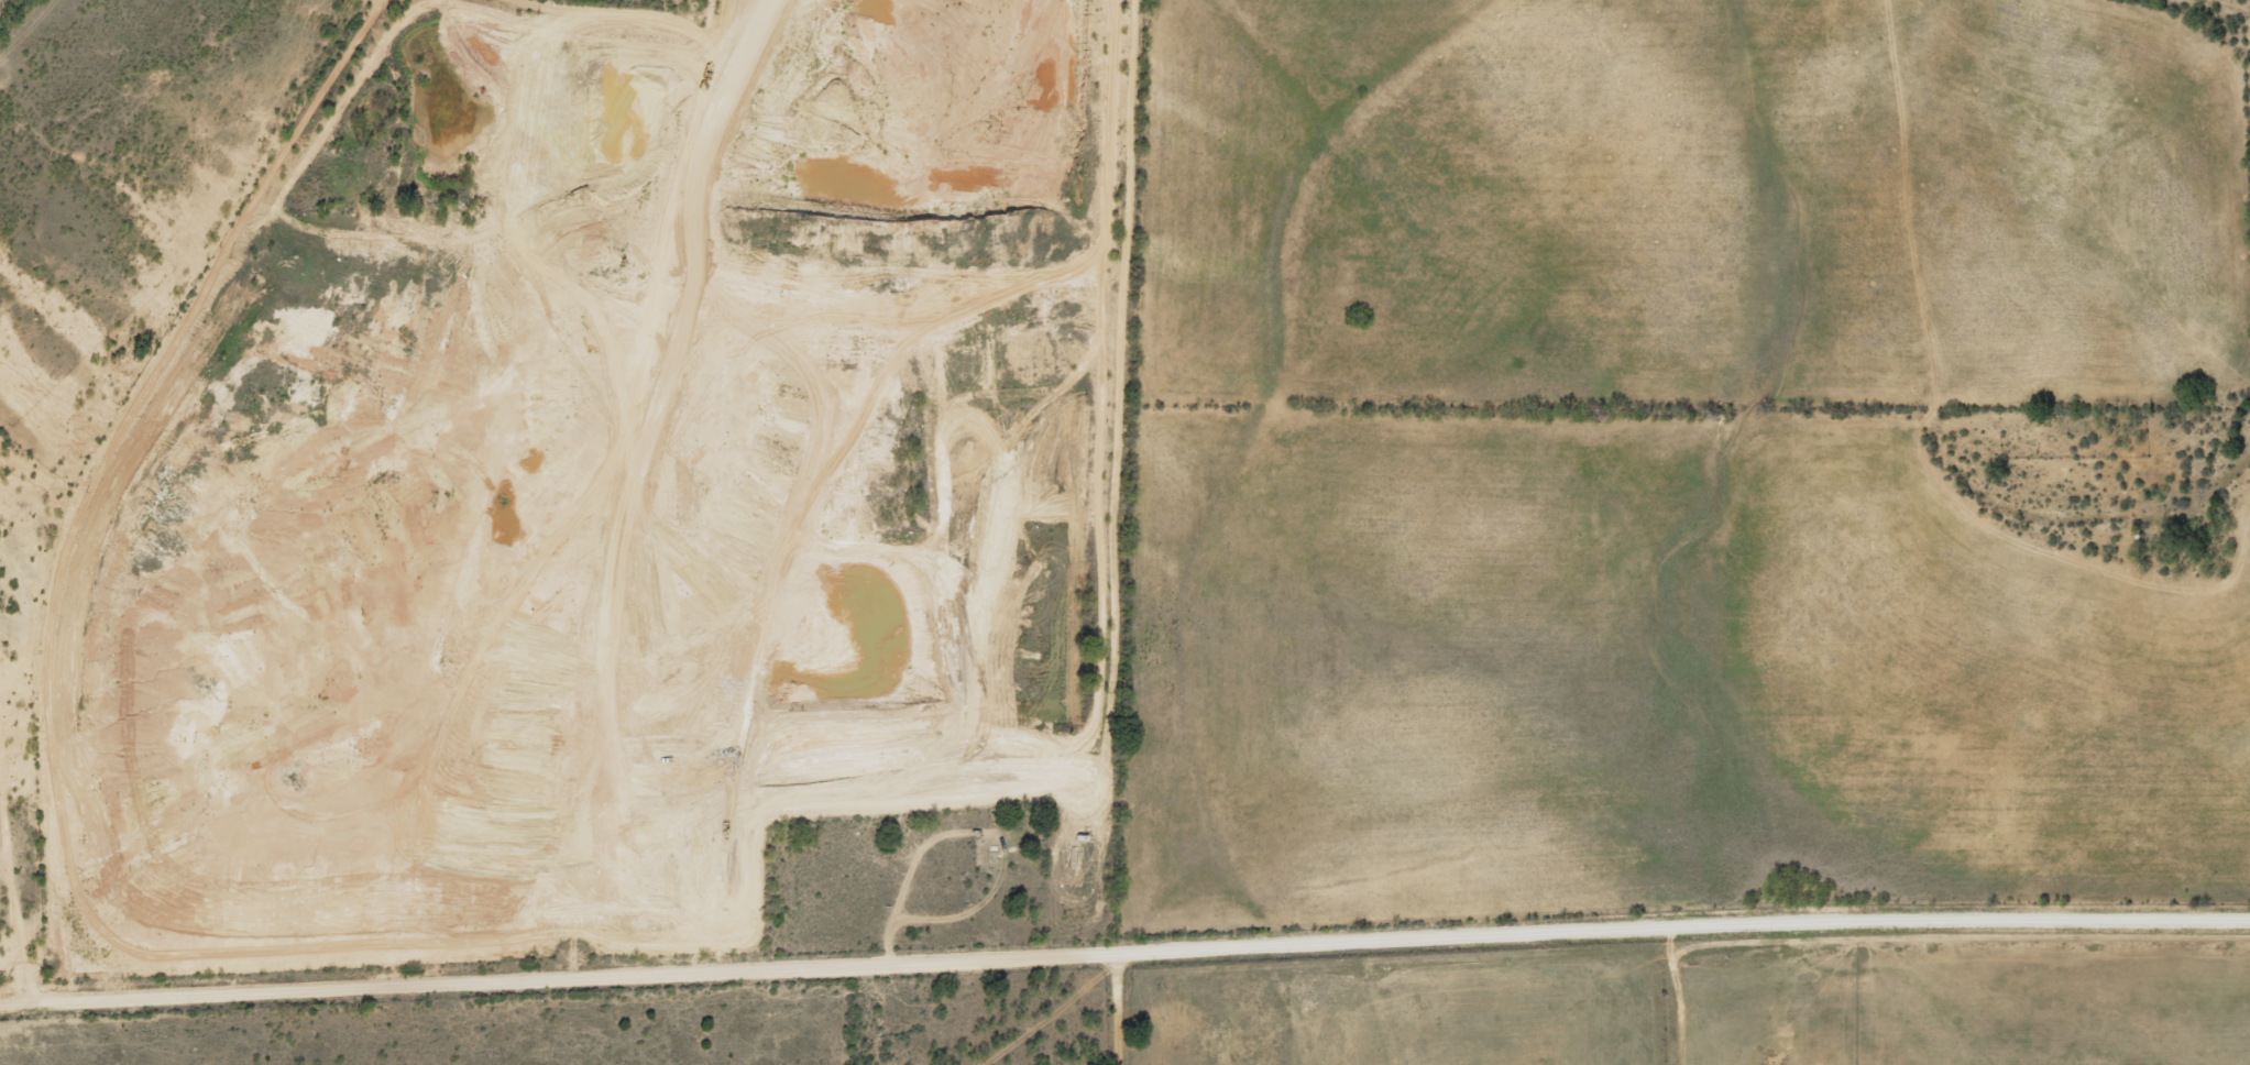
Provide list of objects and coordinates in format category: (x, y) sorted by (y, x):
building: (560, 138)
road: (673, 163)
road: (15, 868)
park: (906, 881)
road: (1124, 953)
road: (1667, 998)
road: (1115, 1009)

